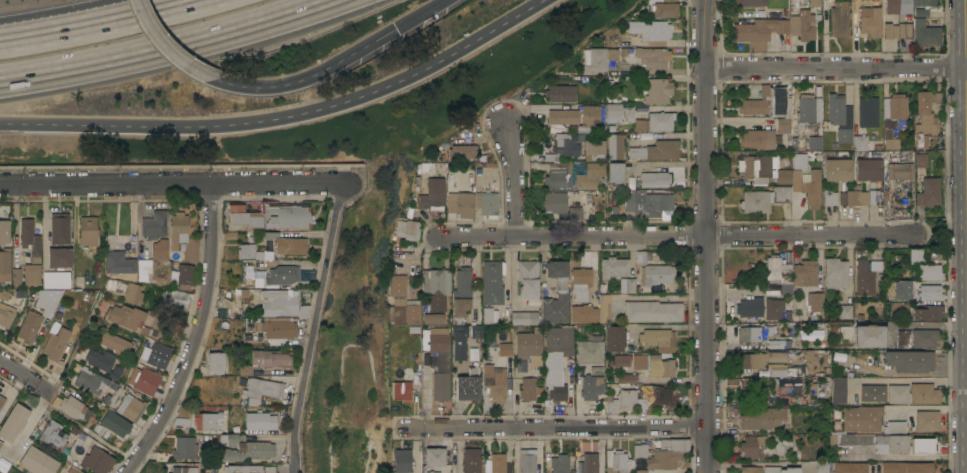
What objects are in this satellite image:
building: (750, 2)
building: (923, 2)
building: (814, 3)
building: (897, 6)
road: (966, 7)
road: (174, 8)
road: (192, 8)
building: (662, 8)
building: (920, 12)
road: (419, 15)
building: (840, 18)
building: (870, 21)
building: (803, 25)
building: (649, 28)
building: (759, 29)
building: (890, 30)
building: (905, 30)
road: (482, 33)
building: (926, 33)
road: (83, 35)
road: (165, 48)
road: (165, 49)
building: (653, 57)
building: (594, 59)
road: (837, 68)
road: (659, 71)
road: (309, 76)
building: (657, 91)
building: (560, 93)
building: (934, 97)
building: (756, 103)
building: (781, 106)
building: (895, 108)
building: (868, 111)
building: (617, 112)
building: (810, 112)
building: (923, 112)
building: (590, 115)
building: (563, 116)
building: (840, 117)
building: (656, 121)
road: (217, 125)
building: (782, 125)
building: (470, 127)
building: (757, 138)
building: (922, 140)
building: (815, 142)
building: (860, 142)
building: (891, 143)
building: (563, 146)
building: (615, 146)
building: (595, 150)
building: (657, 150)
building: (462, 151)
building: (921, 159)
building: (800, 160)
building: (763, 169)
building: (836, 169)
building: (869, 169)
building: (900, 170)
building: (615, 172)
building: (558, 175)
building: (589, 175)
road: (516, 179)
building: (655, 179)
road: (169, 183)
building: (812, 186)
building: (928, 192)
building: (433, 194)
building: (860, 196)
building: (830, 197)
building: (763, 199)
building: (557, 201)
building: (487, 202)
building: (460, 203)
building: (650, 203)
building: (582, 206)
building: (409, 211)
building: (269, 216)
building: (154, 224)
building: (60, 228)
building: (409, 228)
building: (88, 230)
building: (4, 231)
road: (678, 236)
road: (708, 236)
building: (30, 239)
building: (182, 239)
building: (286, 242)
building: (159, 249)
building: (252, 252)
building: (912, 254)
building: (59, 257)
building: (118, 262)
building: (5, 264)
building: (874, 265)
building: (613, 266)
building: (143, 269)
building: (651, 270)
building: (929, 272)
building: (805, 273)
building: (836, 273)
building: (31, 274)
building: (281, 274)
building: (779, 274)
building: (16, 275)
building: (184, 276)
building: (528, 278)
building: (864, 278)
building: (56, 279)
building: (436, 282)
building: (492, 282)
building: (115, 284)
building: (580, 284)
building: (626, 285)
building: (900, 290)
building: (930, 292)
building: (133, 293)
building: (557, 293)
building: (5, 294)
building: (19, 294)
building: (48, 298)
road: (662, 298)
building: (175, 299)
building: (467, 301)
building: (276, 302)
building: (403, 303)
building: (816, 306)
building: (605, 307)
building: (750, 307)
building: (774, 308)
building: (653, 311)
building: (846, 311)
building: (927, 312)
building: (584, 313)
building: (432, 315)
building: (487, 315)
building: (797, 315)
building: (6, 316)
building: (127, 317)
building: (524, 317)
road: (928, 326)
building: (29, 327)
building: (177, 327)
building: (274, 327)
road: (308, 327)
building: (754, 333)
building: (813, 335)
building: (868, 335)
road: (197, 336)
building: (924, 337)
building: (614, 338)
building: (903, 338)
building: (658, 339)
building: (116, 342)
building: (55, 343)
building: (459, 343)
building: (780, 343)
building: (503, 345)
building: (530, 346)
road: (74, 350)
building: (591, 354)
building: (158, 356)
building: (265, 359)
building: (438, 359)
building: (557, 359)
building: (622, 360)
building: (908, 360)
building: (103, 362)
building: (215, 362)
building: (768, 362)
building: (520, 365)
building: (654, 365)
road: (27, 376)
building: (89, 379)
building: (626, 379)
building: (147, 381)
road: (902, 381)
building: (496, 382)
building: (751, 383)
building: (592, 386)
building: (787, 386)
building: (468, 388)
building: (530, 389)
building: (837, 389)
building: (259, 390)
building: (402, 390)
building: (872, 393)
building: (898, 393)
building: (924, 393)
building: (658, 395)
road: (577, 398)
building: (631, 399)
building: (1, 400)
building: (611, 404)
building: (70, 405)
building: (131, 407)
building: (762, 417)
building: (862, 418)
building: (233, 420)
building: (927, 420)
building: (206, 421)
building: (257, 421)
building: (12, 422)
building: (115, 423)
building: (895, 427)
road: (558, 428)
building: (53, 433)
building: (732, 434)
building: (851, 439)
building: (782, 443)
building: (891, 443)
building: (921, 444)
building: (753, 445)
building: (184, 447)
building: (242, 447)
building: (2, 448)
building: (639, 450)
building: (667, 453)
building: (434, 456)
road: (909, 457)
building: (97, 460)
building: (471, 460)
building: (35, 461)
building: (401, 461)
building: (528, 461)
building: (617, 461)
road: (758, 461)
building: (590, 462)
building: (500, 463)
building: (559, 463)
building: (823, 466)
building: (850, 467)
building: (906, 467)
building: (182, 469)
building: (240, 469)
building: (267, 469)
building: (751, 469)
building: (781, 469)
road: (874, 470)
building: (74, 471)
building: (431, 472)

